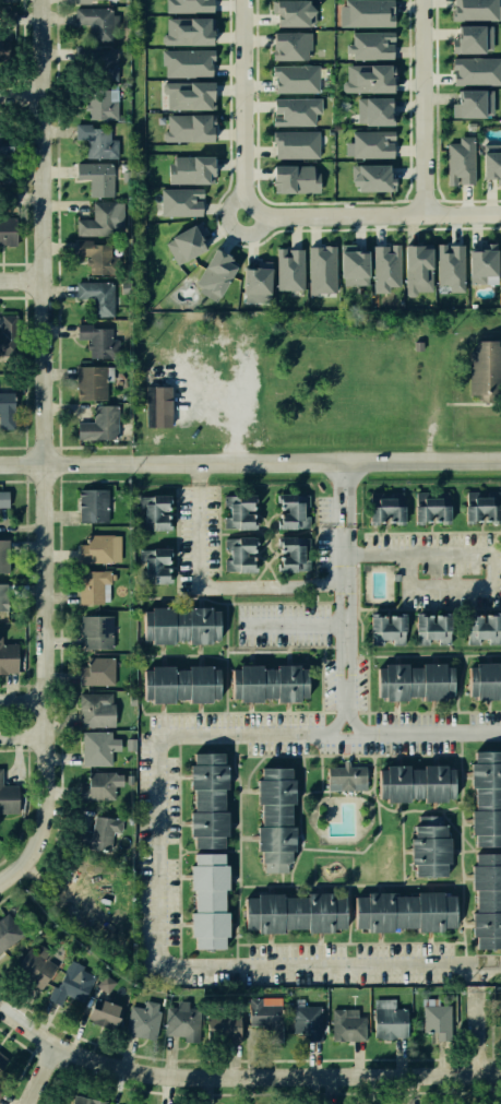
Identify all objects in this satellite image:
building: (87, 0)
building: (8, 1)
building: (187, 5)
building: (473, 8)
building: (289, 12)
building: (367, 13)
building: (8, 19)
building: (95, 24)
building: (187, 31)
building: (465, 37)
road: (22, 38)
building: (288, 45)
building: (372, 46)
building: (0, 49)
building: (183, 62)
building: (104, 63)
building: (473, 71)
road: (11, 79)
road: (24, 79)
building: (291, 79)
building: (368, 80)
road: (23, 82)
road: (22, 95)
road: (22, 95)
building: (189, 96)
building: (98, 103)
building: (466, 104)
road: (243, 105)
road: (422, 107)
building: (371, 111)
building: (293, 114)
road: (11, 116)
building: (186, 128)
building: (98, 141)
building: (5, 144)
building: (369, 144)
building: (294, 146)
building: (4, 157)
building: (457, 161)
building: (489, 163)
building: (187, 170)
building: (95, 175)
building: (293, 178)
building: (368, 178)
road: (22, 187)
building: (177, 203)
road: (226, 206)
road: (374, 214)
building: (96, 219)
road: (56, 225)
building: (4, 230)
road: (251, 232)
building: (184, 240)
building: (90, 258)
building: (499, 258)
road: (14, 262)
building: (478, 264)
building: (318, 266)
building: (382, 266)
building: (450, 266)
building: (288, 268)
building: (350, 268)
building: (210, 270)
building: (414, 270)
road: (22, 278)
road: (23, 280)
building: (252, 280)
building: (96, 296)
road: (14, 297)
building: (98, 340)
building: (5, 346)
building: (129, 353)
building: (481, 367)
road: (24, 371)
building: (88, 379)
building: (8, 406)
building: (158, 407)
building: (95, 417)
road: (14, 447)
road: (40, 447)
road: (56, 447)
road: (88, 447)
road: (44, 450)
road: (250, 458)
road: (24, 463)
road: (58, 464)
road: (90, 479)
road: (14, 480)
road: (24, 495)
building: (90, 504)
building: (477, 504)
building: (2, 506)
road: (58, 506)
building: (430, 506)
building: (381, 507)
building: (152, 509)
building: (291, 509)
building: (240, 511)
building: (97, 548)
building: (289, 553)
building: (239, 554)
building: (4, 555)
road: (490, 558)
building: (156, 566)
building: (92, 589)
road: (212, 589)
road: (347, 593)
building: (3, 596)
building: (183, 625)
road: (295, 625)
building: (482, 628)
building: (432, 629)
building: (387, 630)
building: (97, 633)
building: (8, 658)
building: (94, 670)
building: (271, 682)
building: (416, 682)
building: (486, 682)
building: (182, 684)
road: (24, 700)
building: (95, 710)
road: (24, 734)
building: (131, 743)
building: (97, 748)
building: (346, 774)
building: (418, 783)
building: (98, 785)
building: (9, 796)
building: (485, 797)
building: (212, 799)
road: (238, 799)
building: (277, 819)
building: (96, 834)
road: (162, 847)
building: (430, 851)
building: (486, 898)
building: (211, 900)
building: (406, 912)
building: (297, 914)
building: (8, 931)
building: (36, 966)
building: (106, 982)
building: (71, 990)
building: (104, 1011)
building: (267, 1016)
building: (182, 1020)
building: (437, 1020)
building: (308, 1021)
building: (142, 1022)
building: (392, 1023)
building: (348, 1024)
building: (224, 1026)
road: (478, 1033)
building: (3, 1061)
road: (38, 1073)
road: (241, 1077)
building: (0, 1092)
building: (85, 1101)

